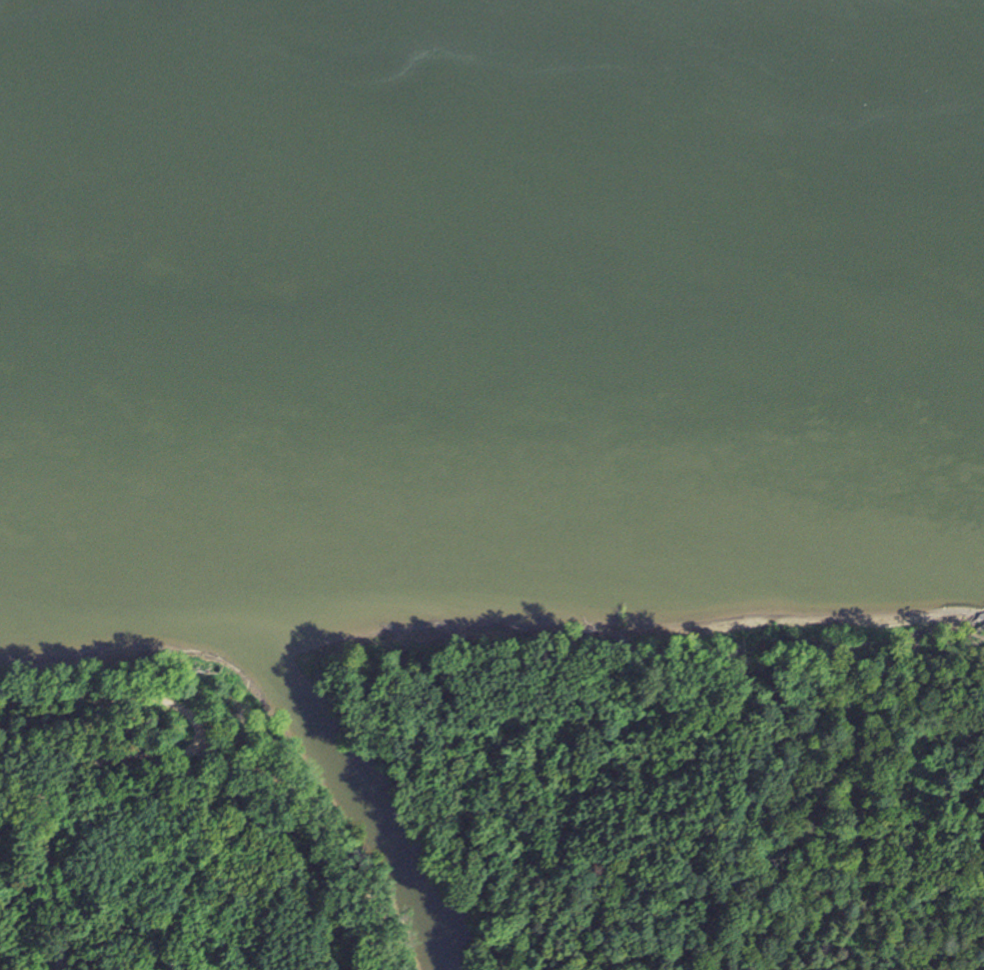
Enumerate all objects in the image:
river: (492, 64)
road: (103, 762)

